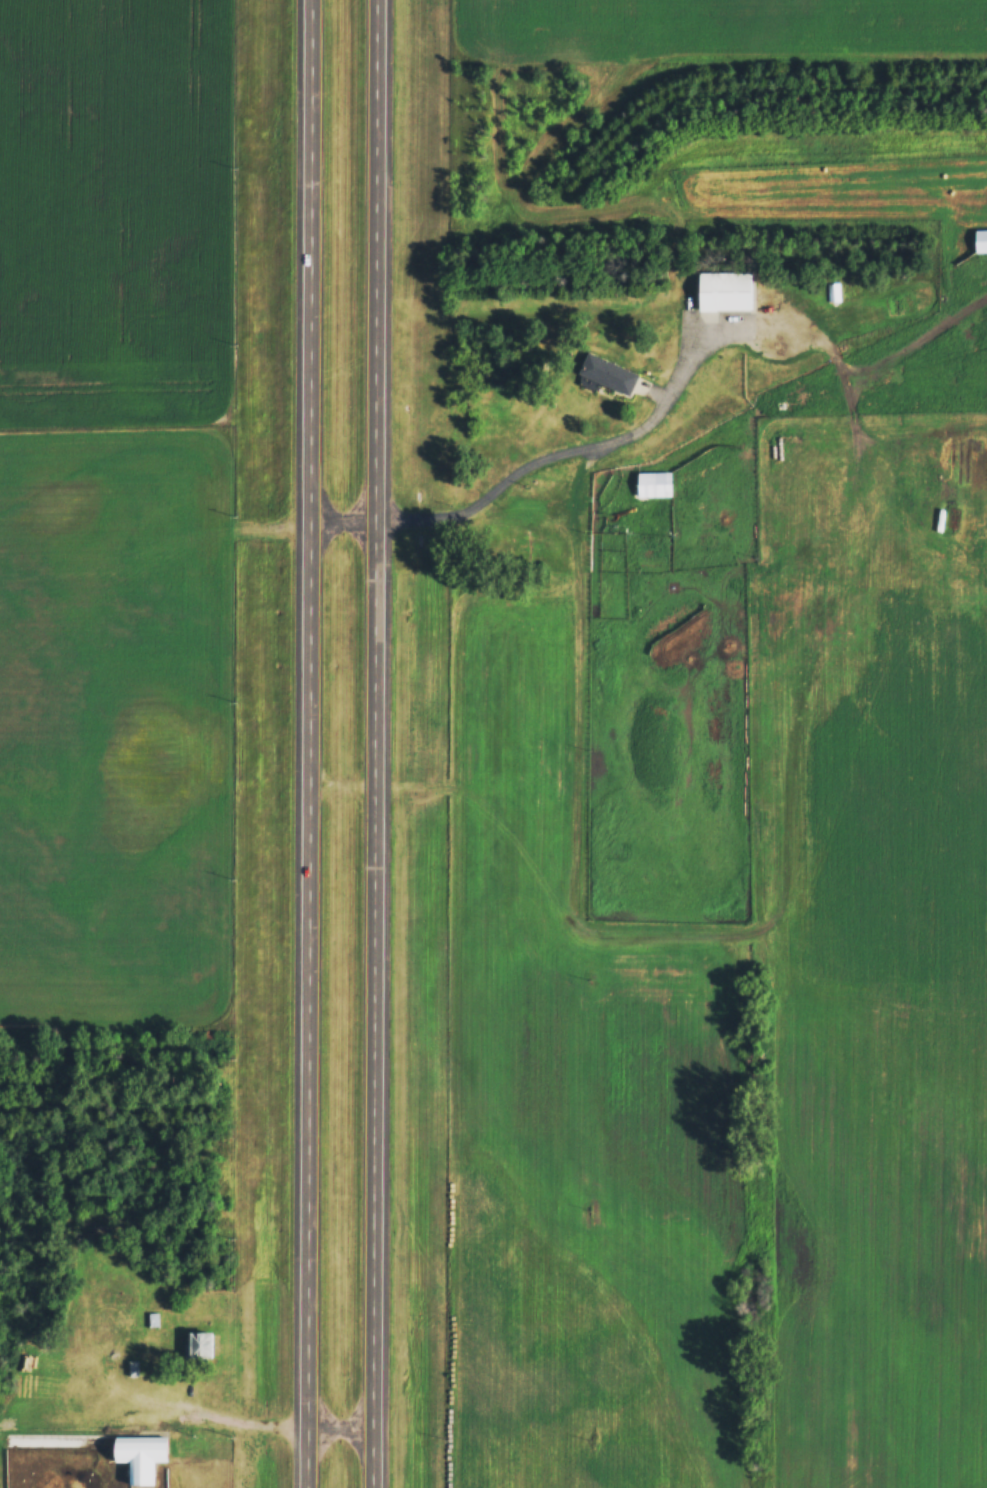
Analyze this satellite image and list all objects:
building: (982, 241)
building: (725, 296)
building: (607, 374)
building: (654, 485)
road: (467, 512)
road: (578, 537)
road: (313, 743)
road: (381, 744)
road: (457, 786)
building: (155, 1321)
building: (206, 1346)
road: (225, 1416)
building: (146, 1455)

